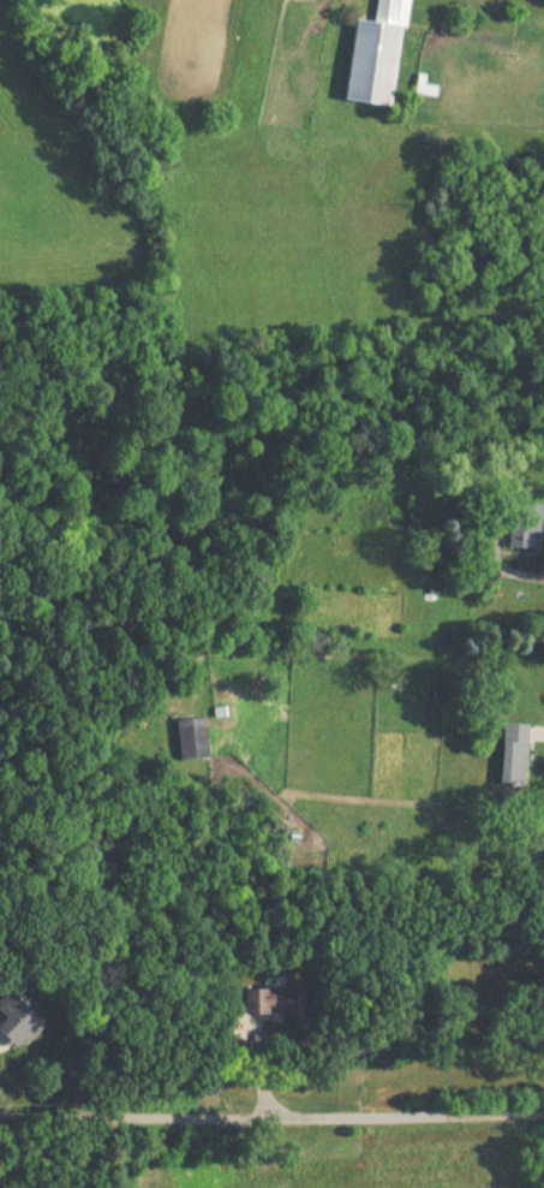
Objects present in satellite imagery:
building: (377, 54)
building: (428, 89)
building: (414, 516)
building: (525, 523)
road: (522, 571)
building: (193, 737)
building: (515, 752)
building: (276, 997)
building: (18, 1018)
road: (271, 1111)

